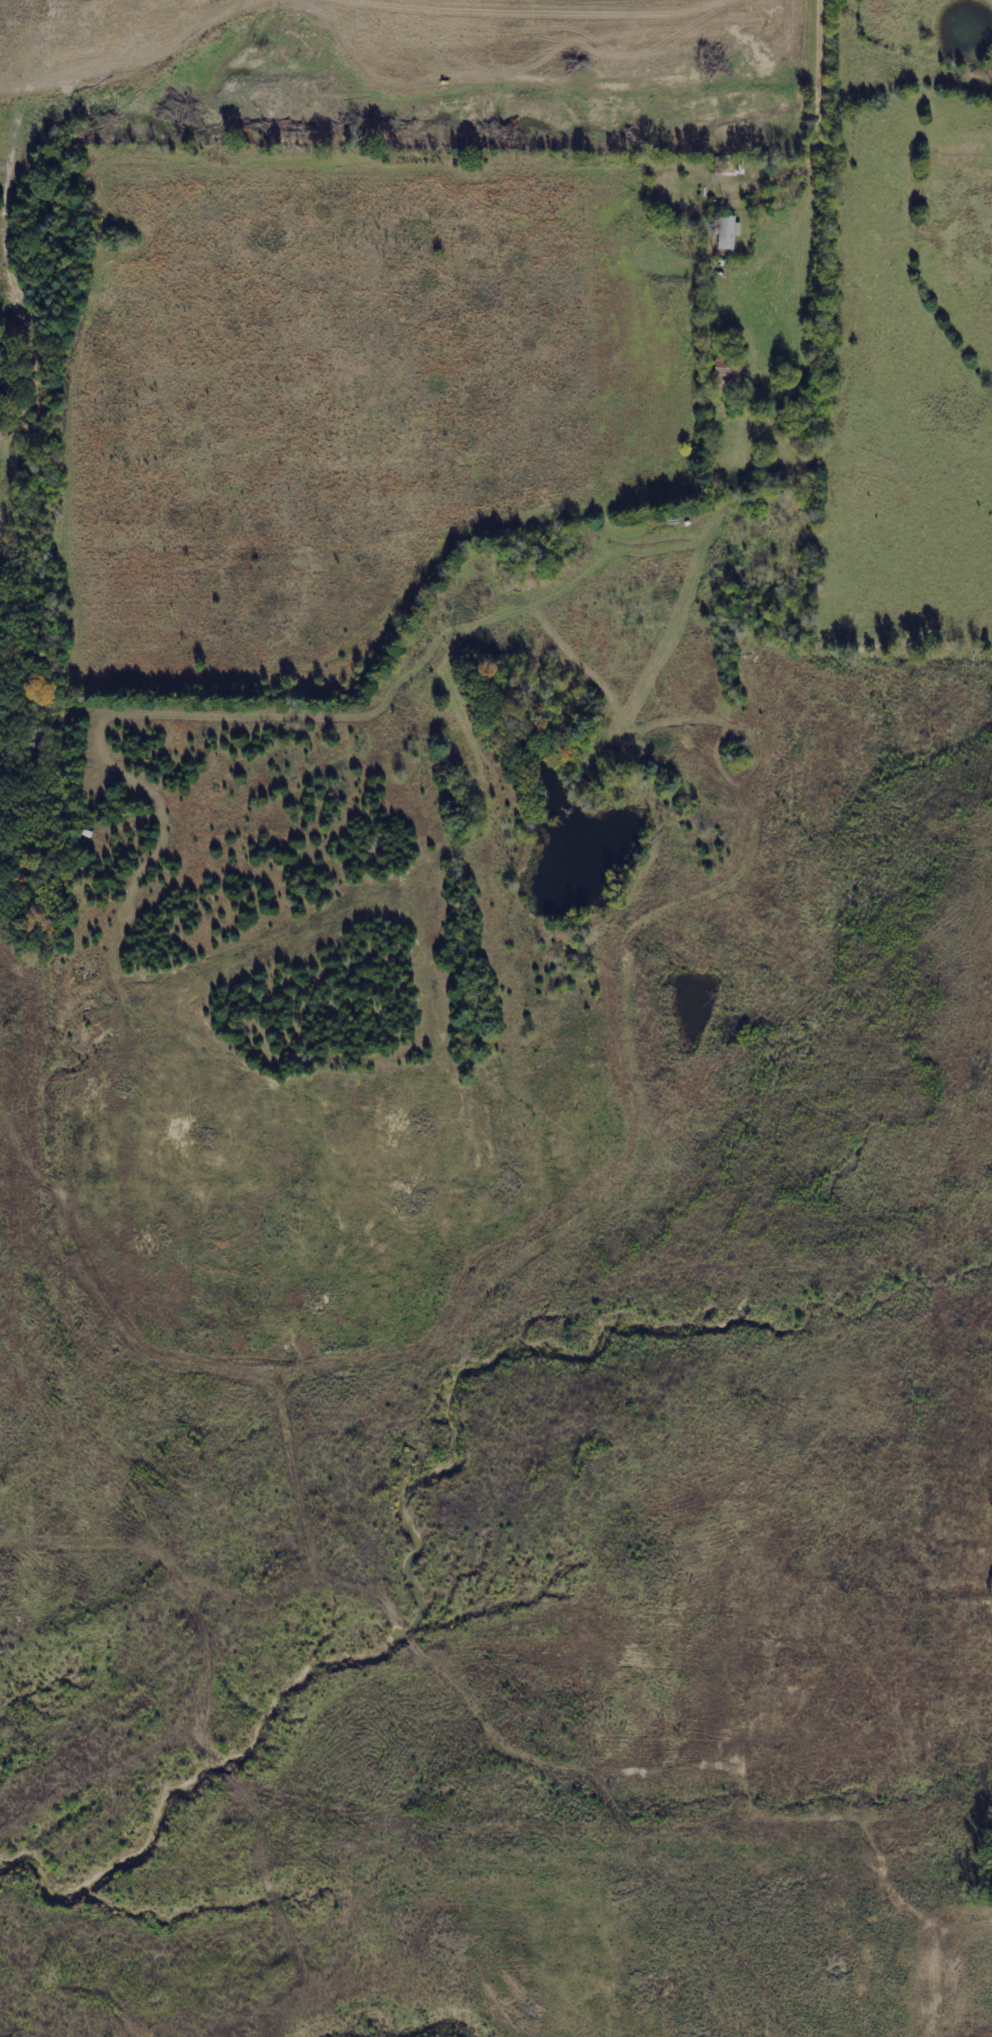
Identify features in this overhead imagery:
road: (828, 50)
building: (729, 233)

